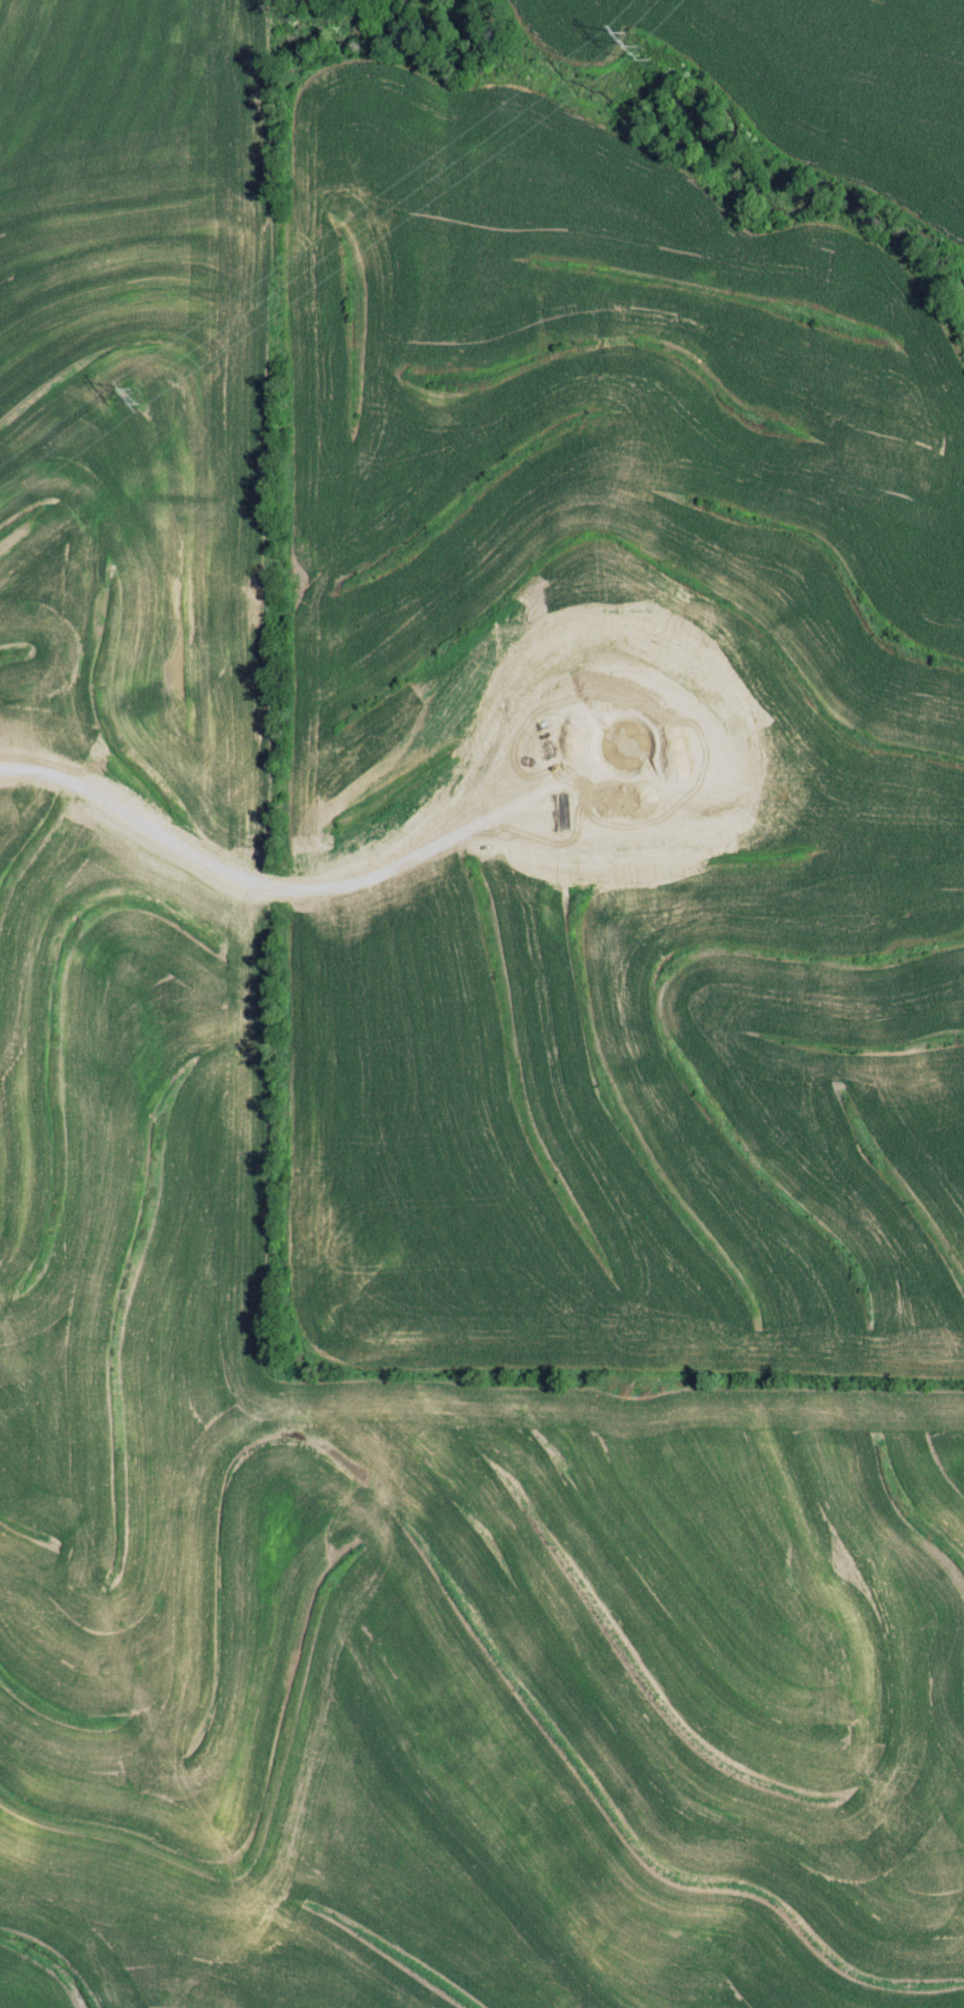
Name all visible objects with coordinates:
power tower: (635, 45)
power tower: (135, 393)
wind turbine: (618, 751)

